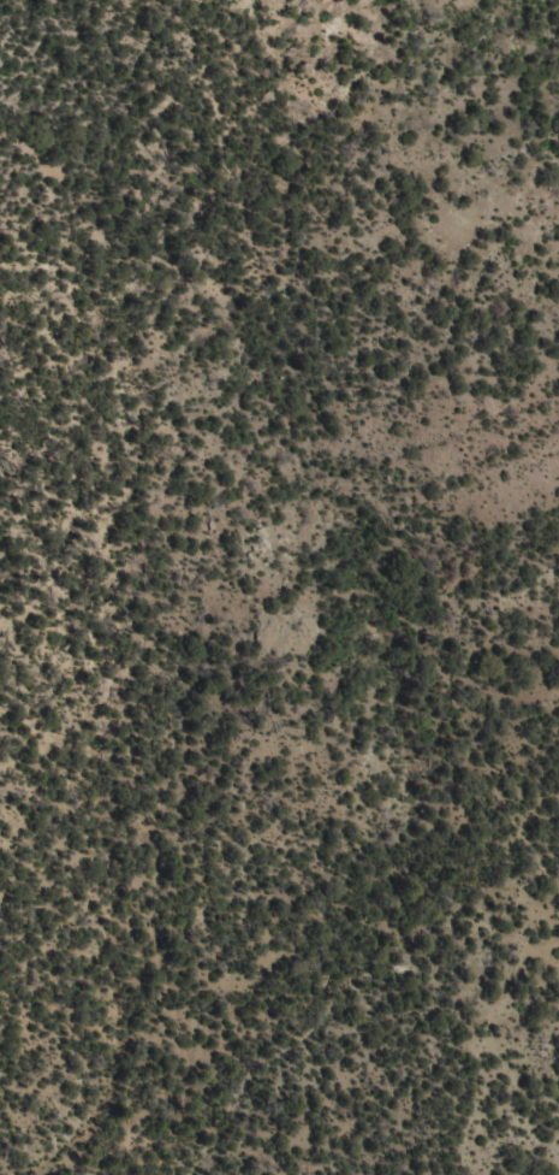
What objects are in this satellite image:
road: (451, 120)
road: (546, 482)
road: (474, 1014)

